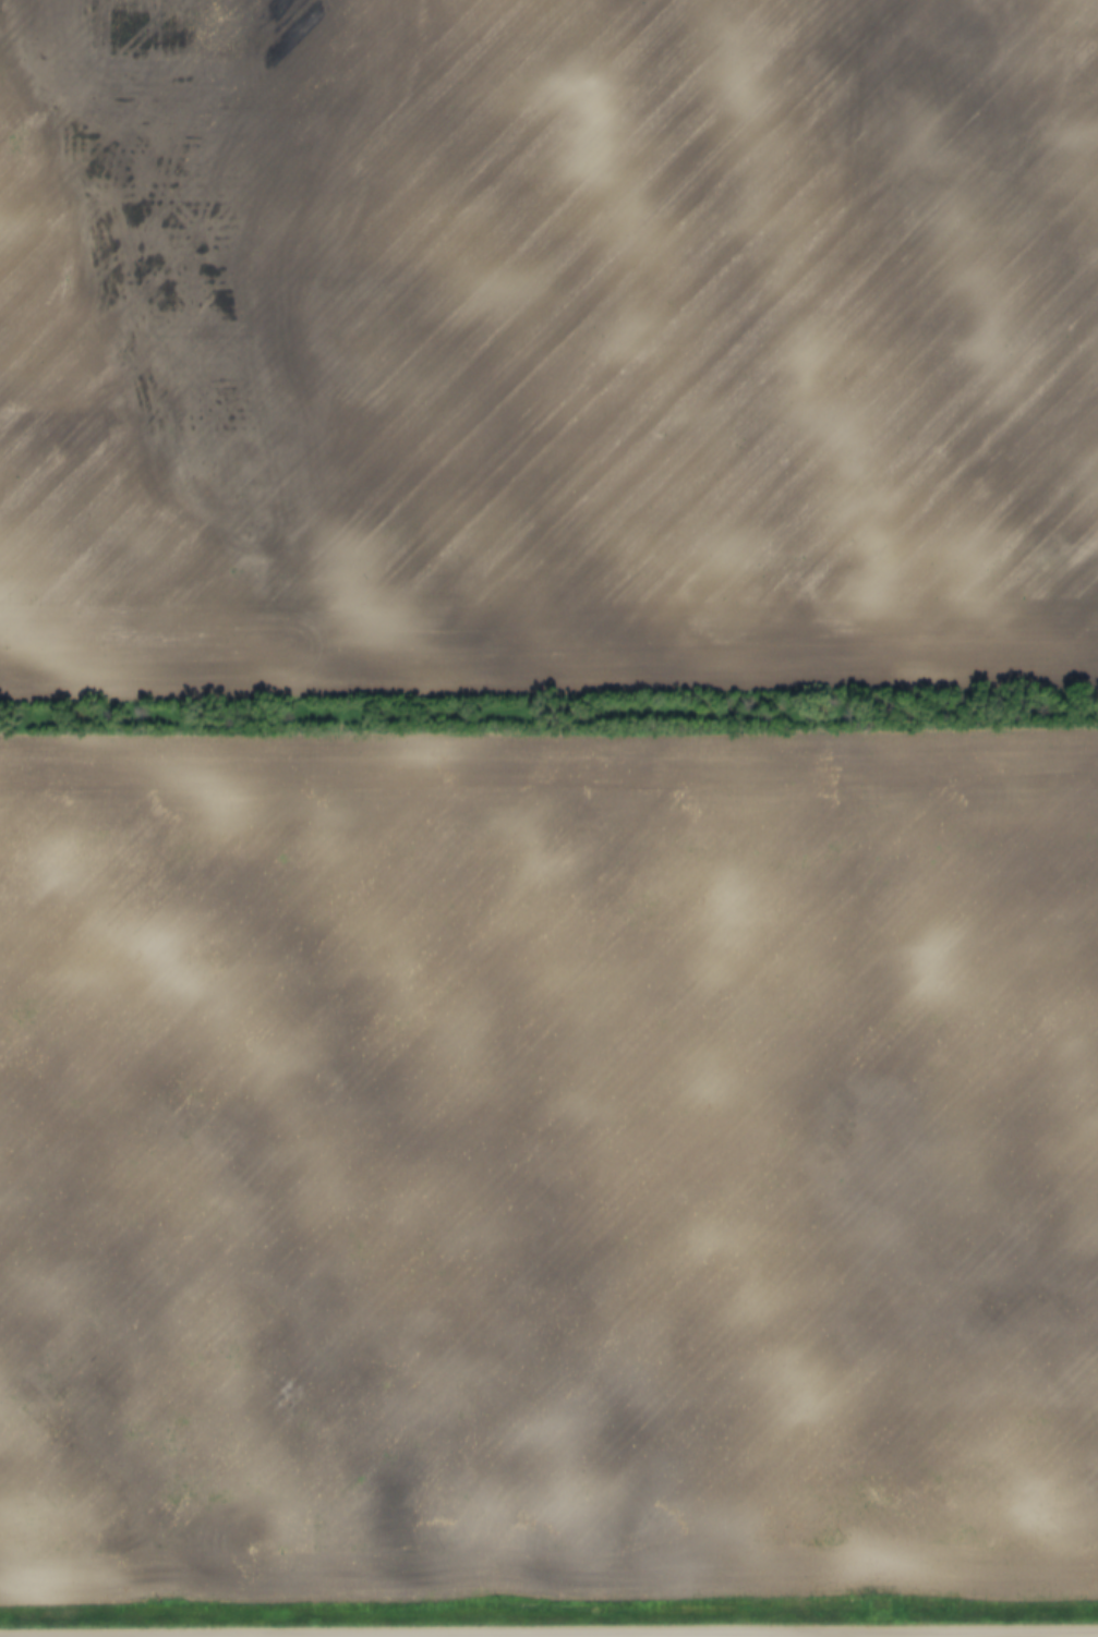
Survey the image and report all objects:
road: (548, 1630)

